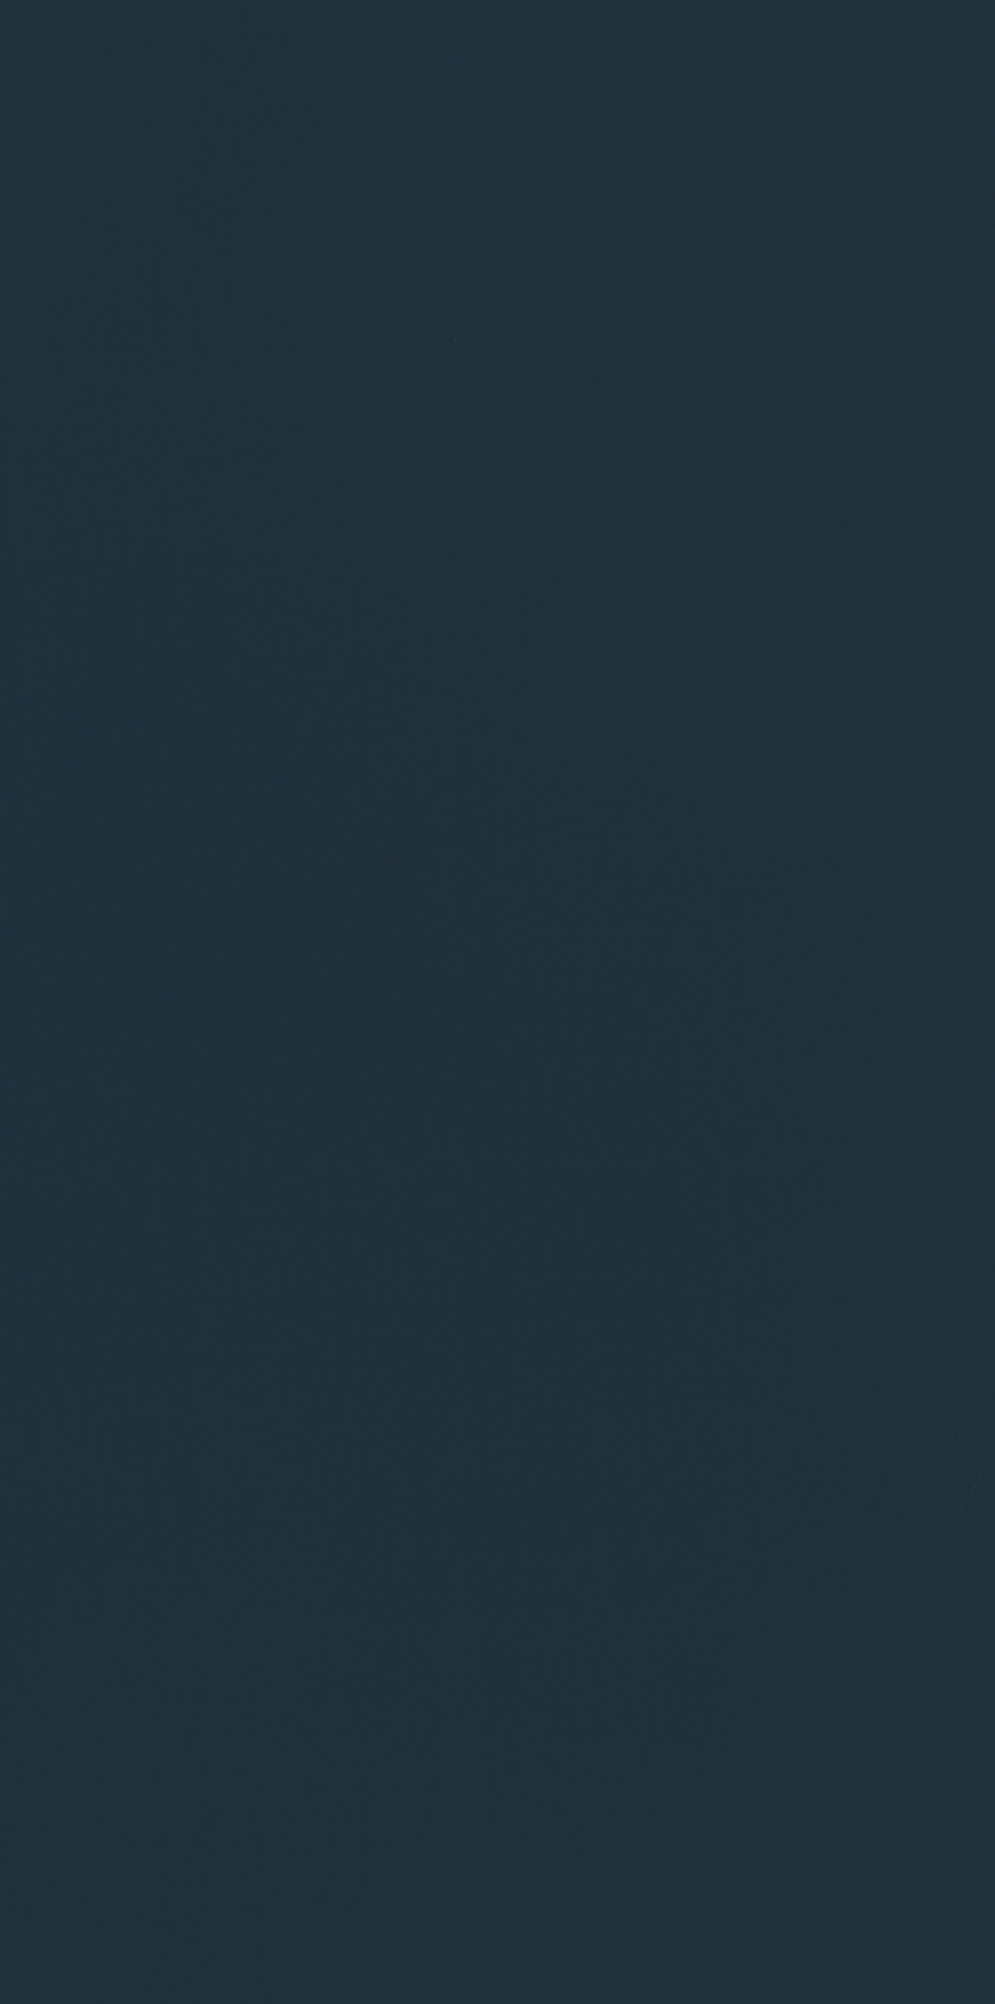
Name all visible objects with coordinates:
river: (47, 16)
river: (756, 108)
park: (497, 1002)

